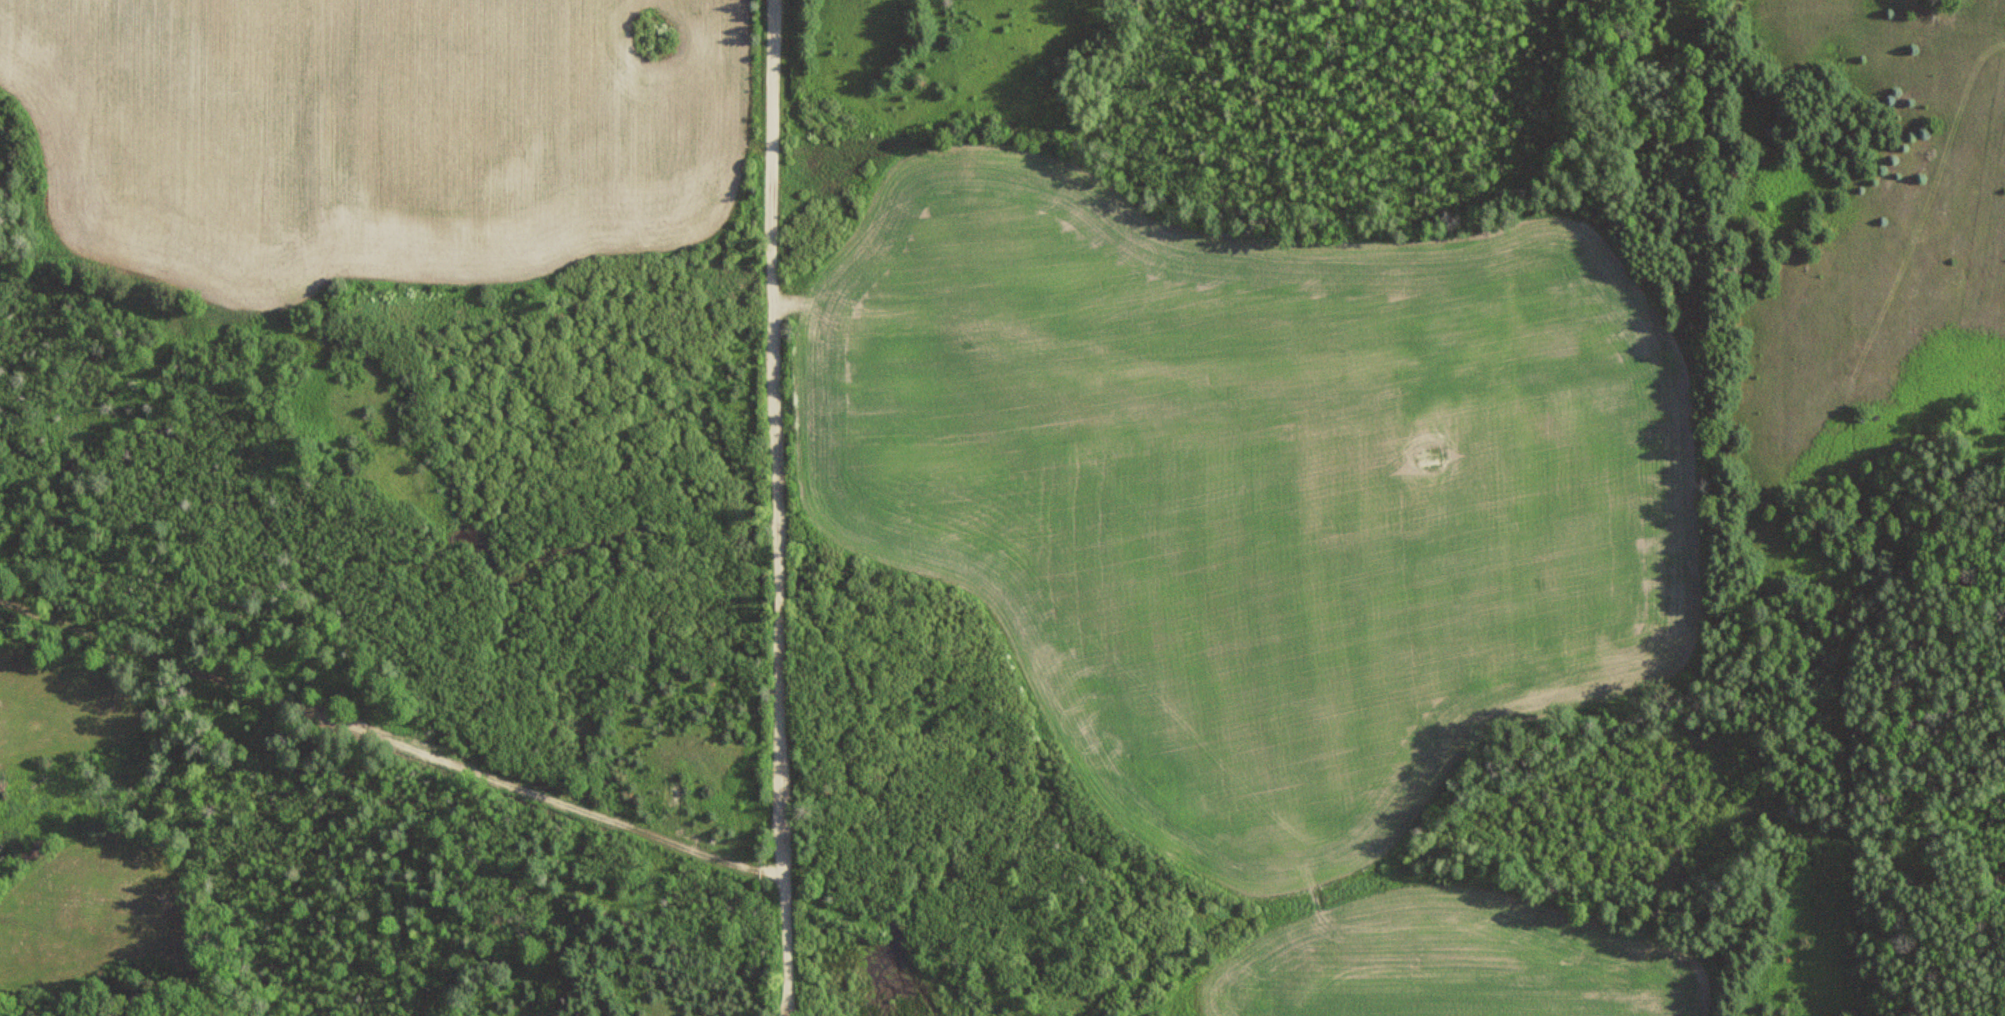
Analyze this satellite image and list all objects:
road: (778, 508)

